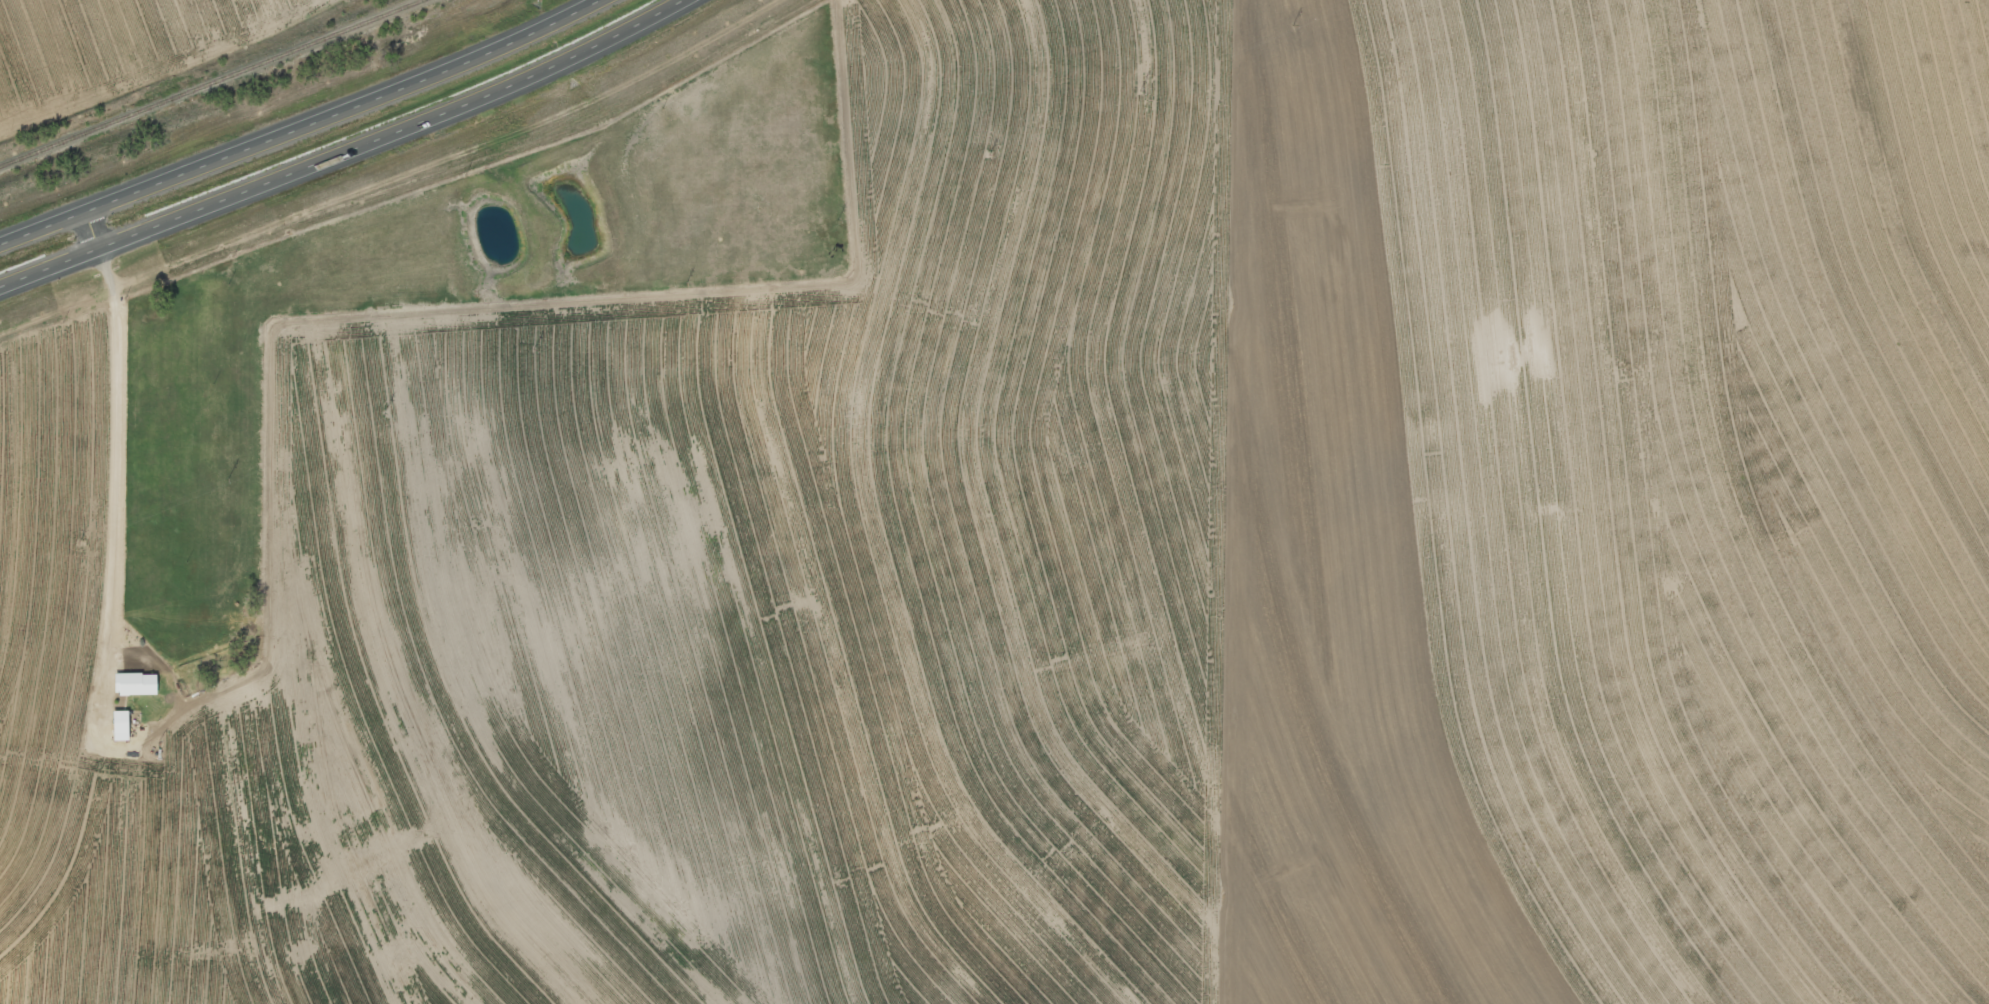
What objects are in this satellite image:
railway: (208, 83)
road: (299, 128)
road: (346, 153)
road: (392, 178)
road: (110, 448)

